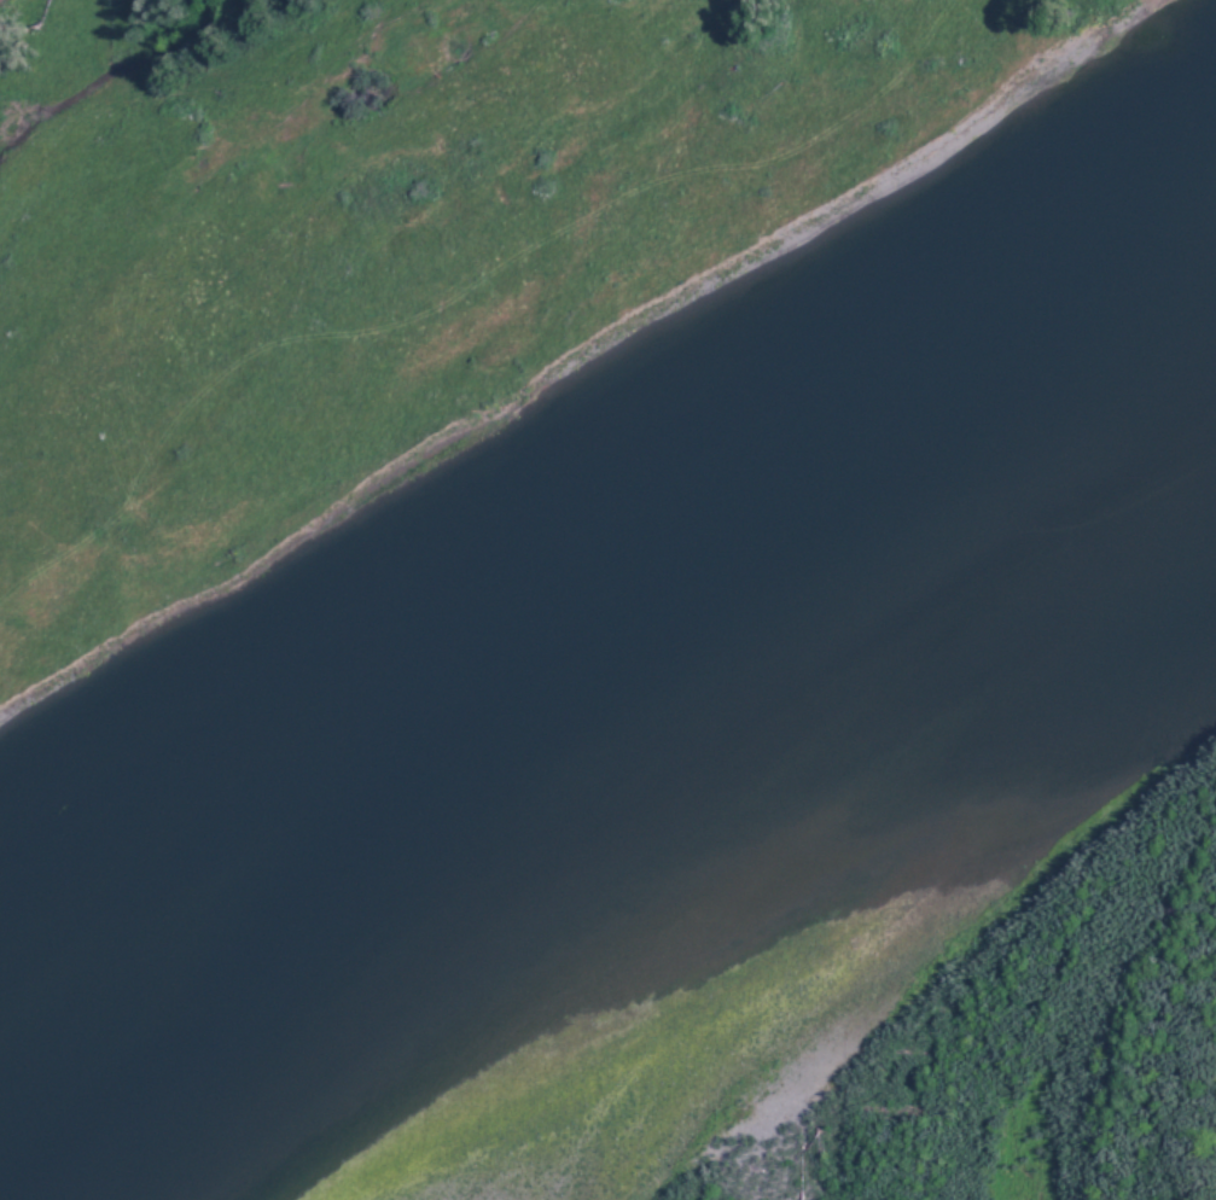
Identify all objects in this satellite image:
river: (715, 815)

